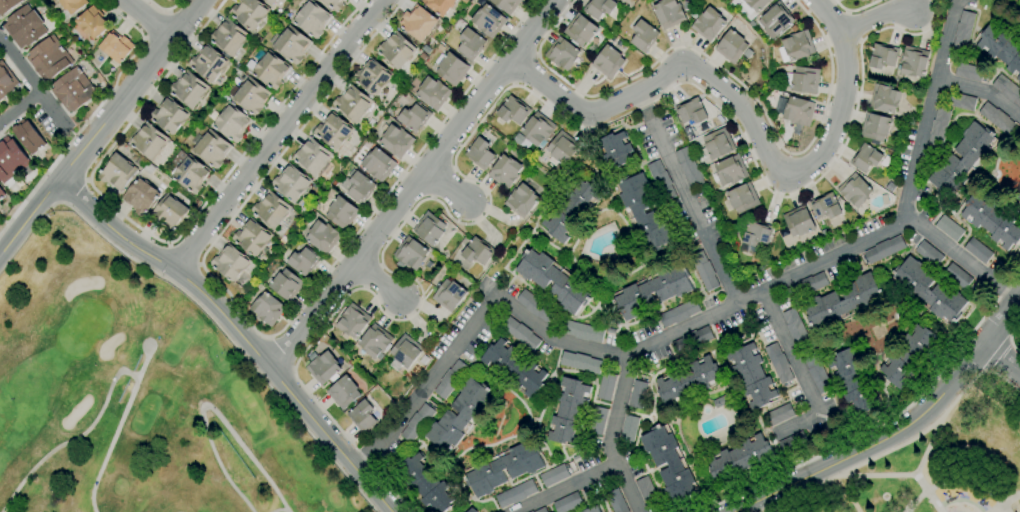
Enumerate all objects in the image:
building: (165, 0)
building: (166, 0)
building: (859, 0)
building: (270, 2)
road: (1017, 2)
building: (335, 4)
building: (7, 5)
building: (72, 5)
building: (506, 5)
building: (687, 5)
building: (753, 5)
building: (439, 6)
building: (600, 8)
road: (164, 9)
road: (855, 9)
building: (249, 13)
building: (668, 13)
road: (151, 17)
road: (876, 17)
building: (312, 19)
building: (488, 21)
building: (775, 21)
building: (92, 22)
building: (418, 22)
building: (707, 23)
building: (24, 27)
building: (580, 30)
building: (963, 31)
building: (643, 36)
building: (229, 37)
building: (291, 44)
building: (470, 44)
building: (116, 46)
building: (796, 46)
building: (731, 47)
building: (1001, 47)
building: (396, 50)
building: (747, 53)
road: (536, 54)
building: (562, 54)
building: (883, 56)
building: (49, 58)
building: (913, 61)
building: (608, 62)
building: (208, 63)
road: (524, 68)
building: (452, 69)
building: (271, 70)
road: (722, 70)
building: (968, 72)
building: (373, 77)
building: (802, 79)
road: (32, 81)
building: (6, 82)
road: (514, 84)
building: (188, 89)
road: (981, 89)
building: (1007, 89)
building: (74, 91)
building: (433, 93)
building: (250, 96)
building: (884, 98)
building: (961, 101)
building: (353, 103)
road: (21, 107)
building: (513, 110)
building: (691, 111)
building: (795, 111)
road: (91, 114)
road: (747, 114)
building: (170, 116)
building: (414, 118)
building: (996, 118)
building: (232, 123)
road: (476, 126)
building: (875, 126)
road: (99, 127)
road: (78, 129)
building: (938, 129)
building: (538, 130)
building: (333, 131)
building: (687, 131)
road: (276, 134)
building: (29, 136)
building: (518, 139)
building: (396, 141)
building: (149, 142)
building: (717, 144)
building: (562, 148)
building: (212, 149)
building: (615, 149)
building: (480, 154)
building: (312, 156)
building: (865, 158)
building: (962, 160)
building: (10, 161)
building: (378, 164)
building: (688, 168)
building: (505, 171)
building: (730, 171)
building: (118, 172)
building: (191, 175)
building: (661, 180)
road: (87, 181)
building: (291, 183)
road: (414, 185)
road: (913, 185)
building: (358, 187)
road: (445, 187)
building: (855, 190)
road: (71, 191)
building: (1, 193)
building: (141, 196)
building: (1019, 196)
road: (685, 198)
building: (742, 199)
building: (521, 200)
building: (1018, 200)
road: (60, 203)
building: (825, 207)
building: (271, 210)
building: (571, 210)
building: (342, 212)
building: (170, 213)
building: (644, 213)
building: (991, 220)
building: (798, 221)
building: (429, 228)
building: (949, 228)
building: (323, 236)
building: (252, 237)
building: (755, 237)
road: (161, 241)
building: (884, 249)
building: (978, 250)
building: (478, 251)
road: (185, 254)
building: (409, 254)
building: (929, 254)
road: (962, 260)
building: (304, 261)
building: (230, 263)
building: (704, 272)
building: (957, 276)
road: (378, 280)
building: (554, 280)
building: (286, 285)
building: (806, 286)
building: (929, 290)
building: (652, 291)
building: (449, 295)
building: (843, 302)
building: (535, 306)
building: (267, 308)
building: (679, 313)
building: (353, 321)
building: (796, 329)
road: (237, 331)
building: (582, 331)
building: (520, 334)
road: (1010, 335)
road: (267, 336)
road: (227, 340)
building: (692, 340)
building: (374, 341)
road: (281, 352)
building: (404, 353)
road: (995, 355)
building: (908, 356)
road: (633, 359)
road: (1001, 359)
building: (580, 362)
building: (778, 363)
building: (323, 368)
building: (514, 368)
road: (805, 371)
building: (816, 373)
building: (751, 375)
building: (450, 379)
building: (688, 381)
building: (853, 381)
road: (430, 386)
building: (606, 386)
building: (343, 393)
building: (637, 395)
park: (135, 396)
building: (723, 400)
road: (209, 407)
building: (569, 412)
building: (779, 414)
building: (460, 416)
building: (362, 417)
road: (884, 420)
building: (597, 421)
building: (416, 423)
building: (628, 428)
road: (900, 428)
road: (116, 429)
road: (615, 437)
road: (72, 439)
building: (793, 442)
road: (901, 444)
road: (926, 451)
building: (739, 458)
park: (941, 462)
building: (669, 464)
building: (504, 468)
building: (554, 476)
road: (896, 477)
building: (426, 484)
road: (953, 484)
road: (571, 489)
building: (646, 491)
building: (515, 494)
road: (849, 497)
building: (616, 501)
building: (567, 502)
road: (1004, 502)
building: (592, 509)
road: (279, 510)
building: (472, 510)
building: (541, 510)
building: (531, 511)

